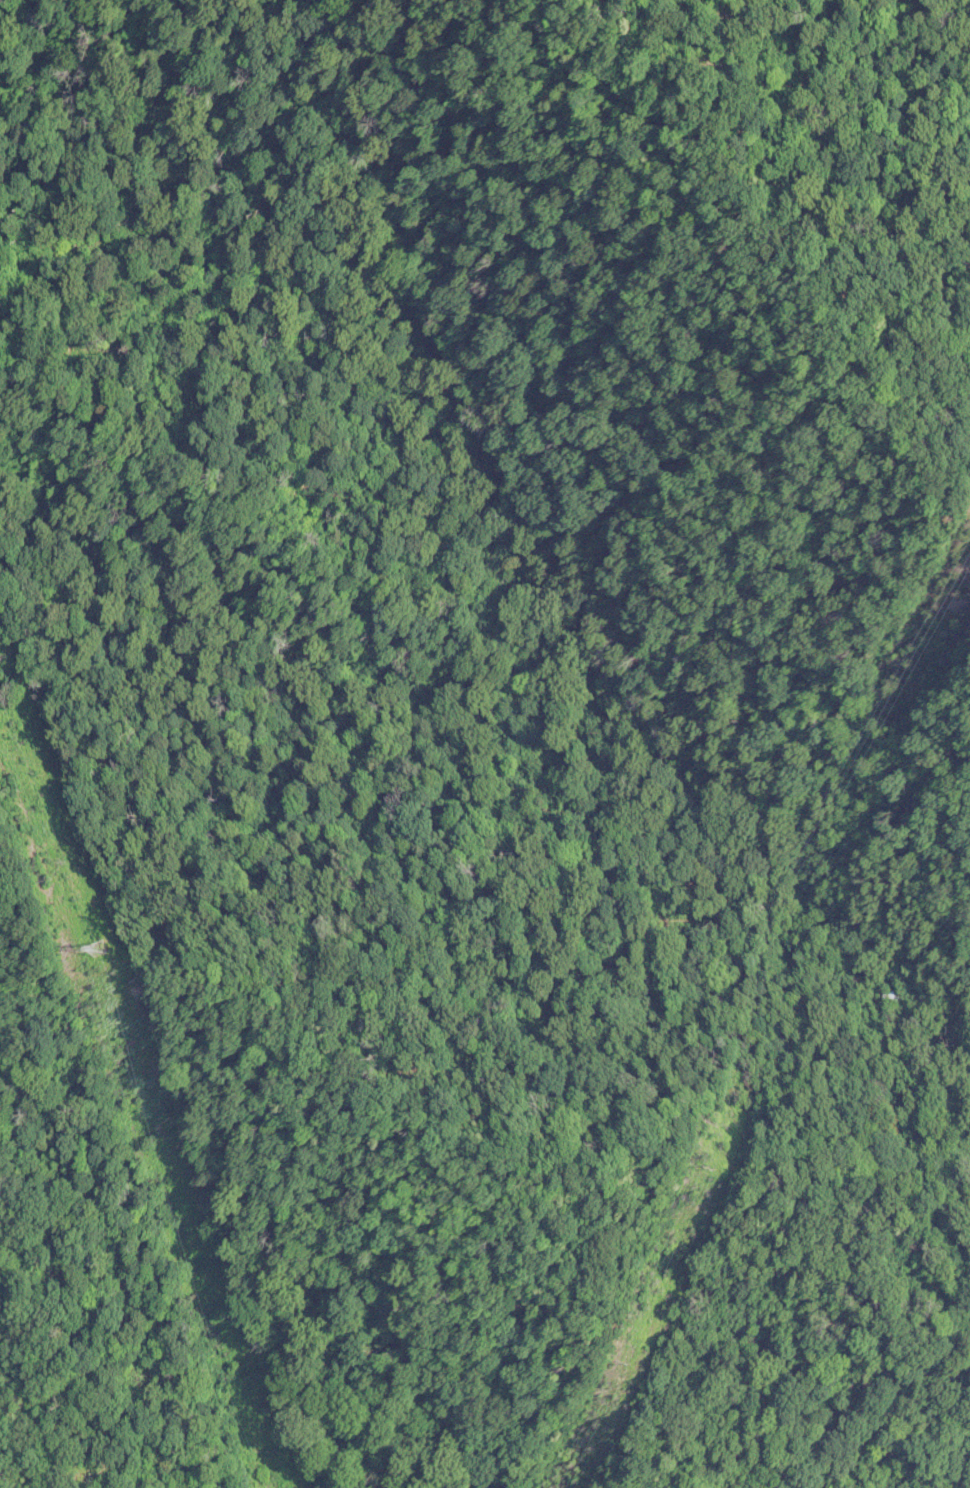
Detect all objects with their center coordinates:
power tower: (85, 945)

